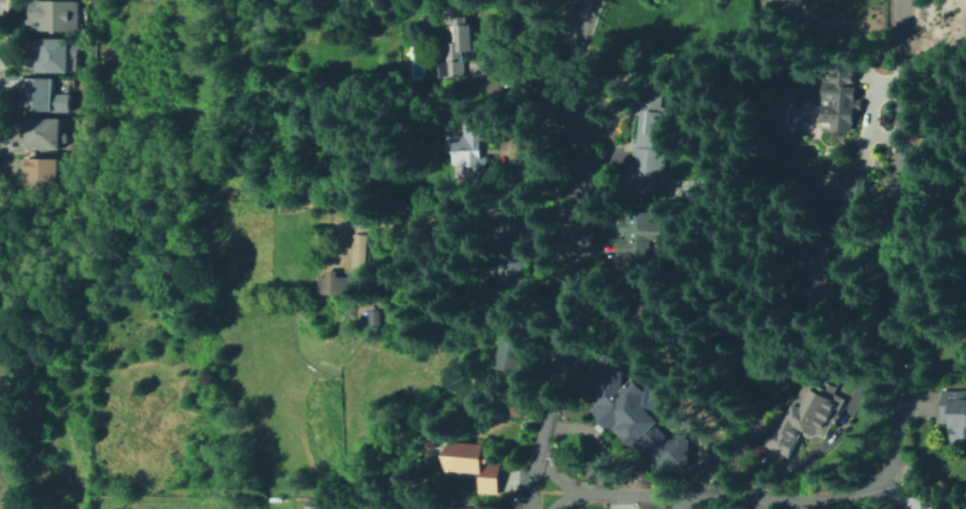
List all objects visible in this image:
building: (671, 1)
building: (55, 16)
building: (462, 49)
building: (54, 56)
building: (652, 88)
building: (845, 96)
building: (43, 97)
building: (778, 107)
building: (44, 134)
building: (897, 139)
building: (650, 154)
building: (473, 155)
building: (44, 175)
building: (848, 185)
park: (42, 248)
building: (518, 248)
road: (575, 254)
building: (636, 255)
building: (347, 271)
building: (819, 275)
building: (372, 317)
building: (511, 347)
road: (929, 368)
building: (634, 408)
building: (956, 417)
building: (809, 419)
road: (896, 420)
road: (23, 441)
building: (479, 468)
road: (562, 497)
building: (312, 504)
building: (451, 508)

